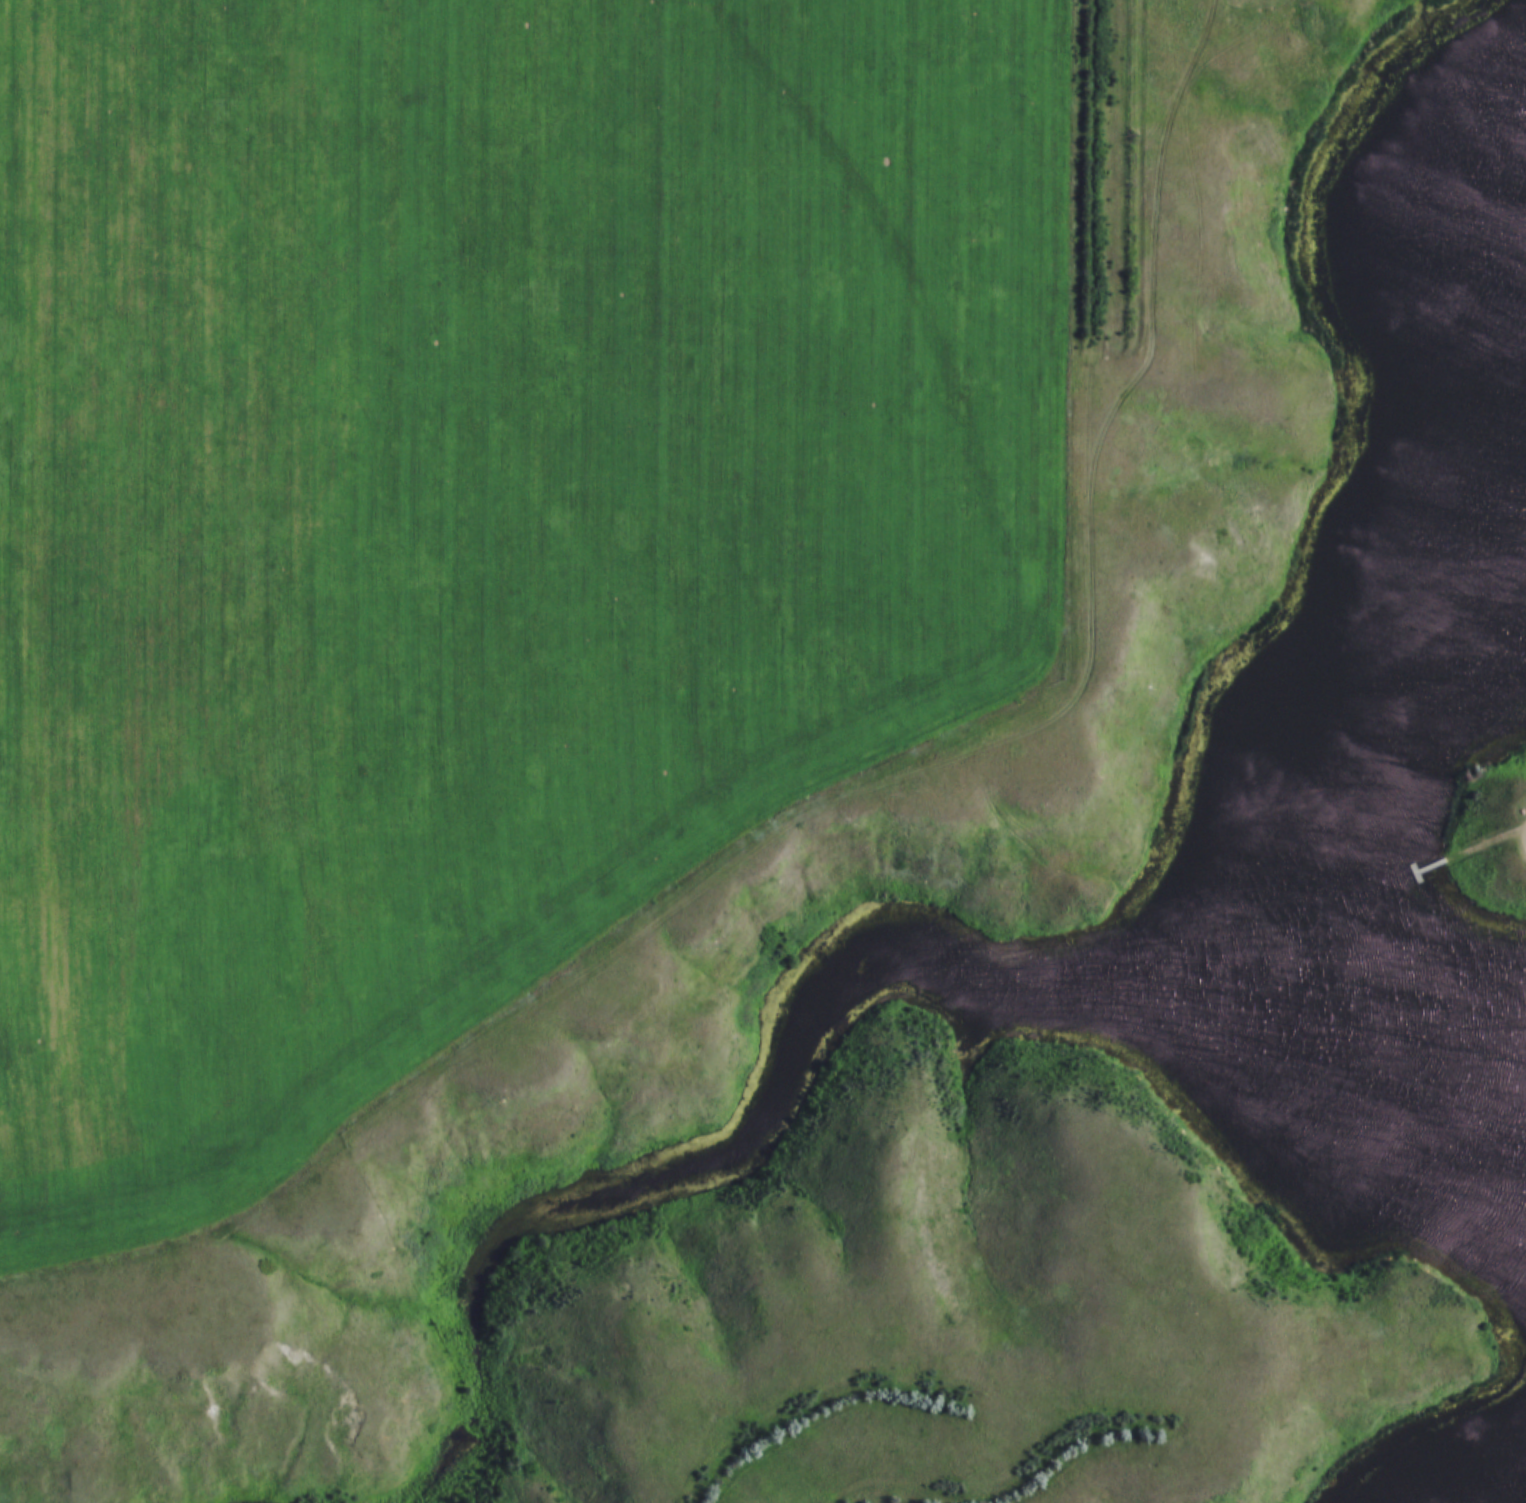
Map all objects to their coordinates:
park: (1075, 922)

